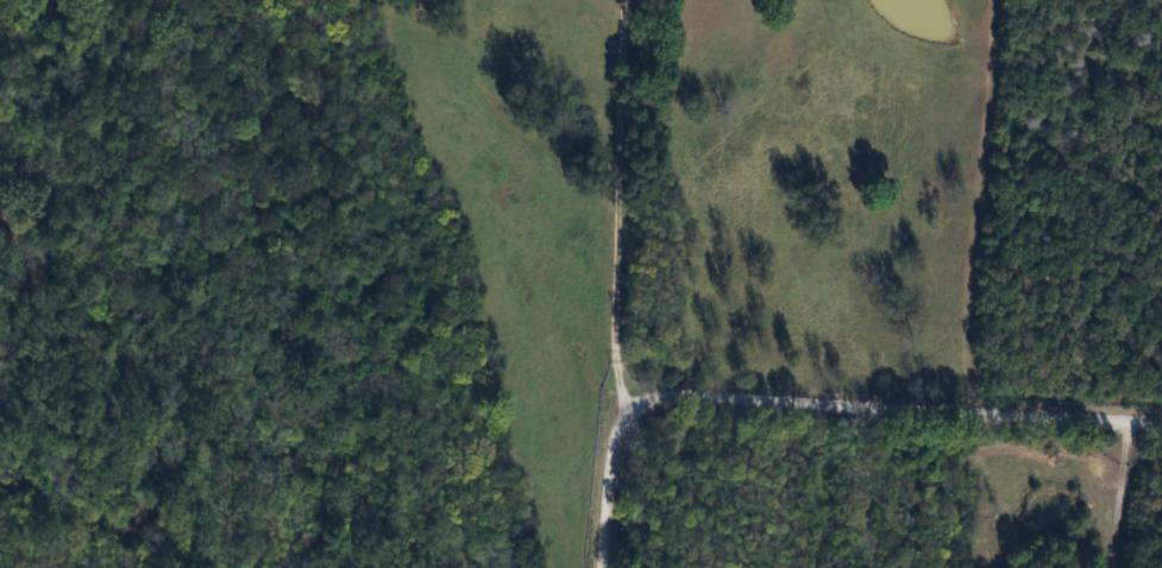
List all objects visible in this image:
road: (610, 208)
road: (812, 402)
road: (1122, 494)

